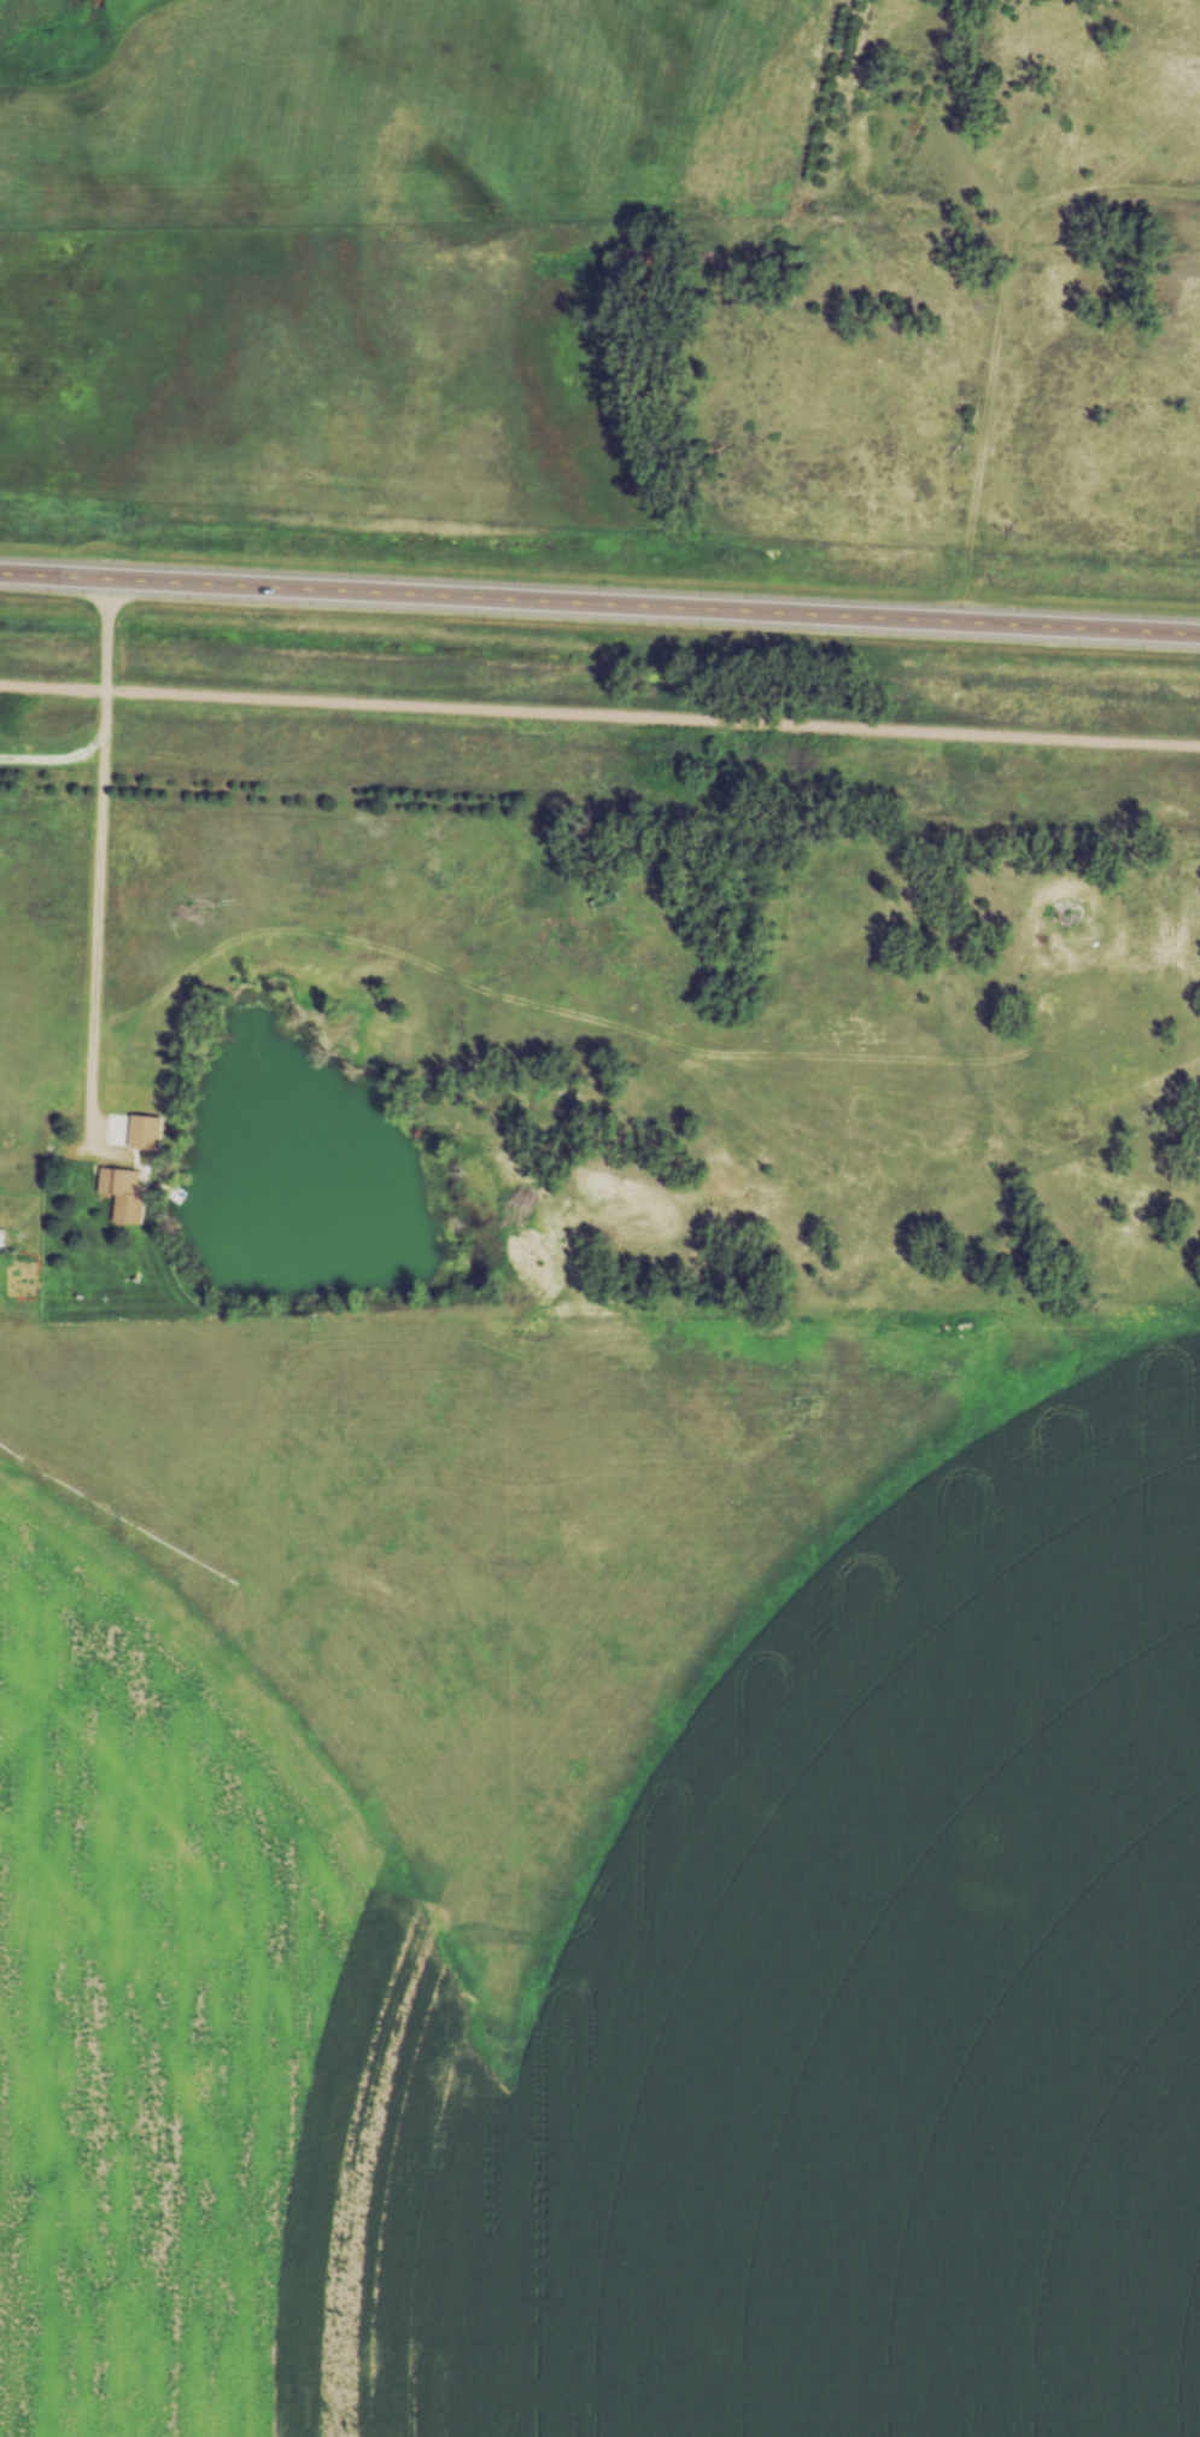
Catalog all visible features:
road: (599, 609)
road: (599, 713)
building: (607, 899)
building: (573, 1095)
building: (127, 1192)

